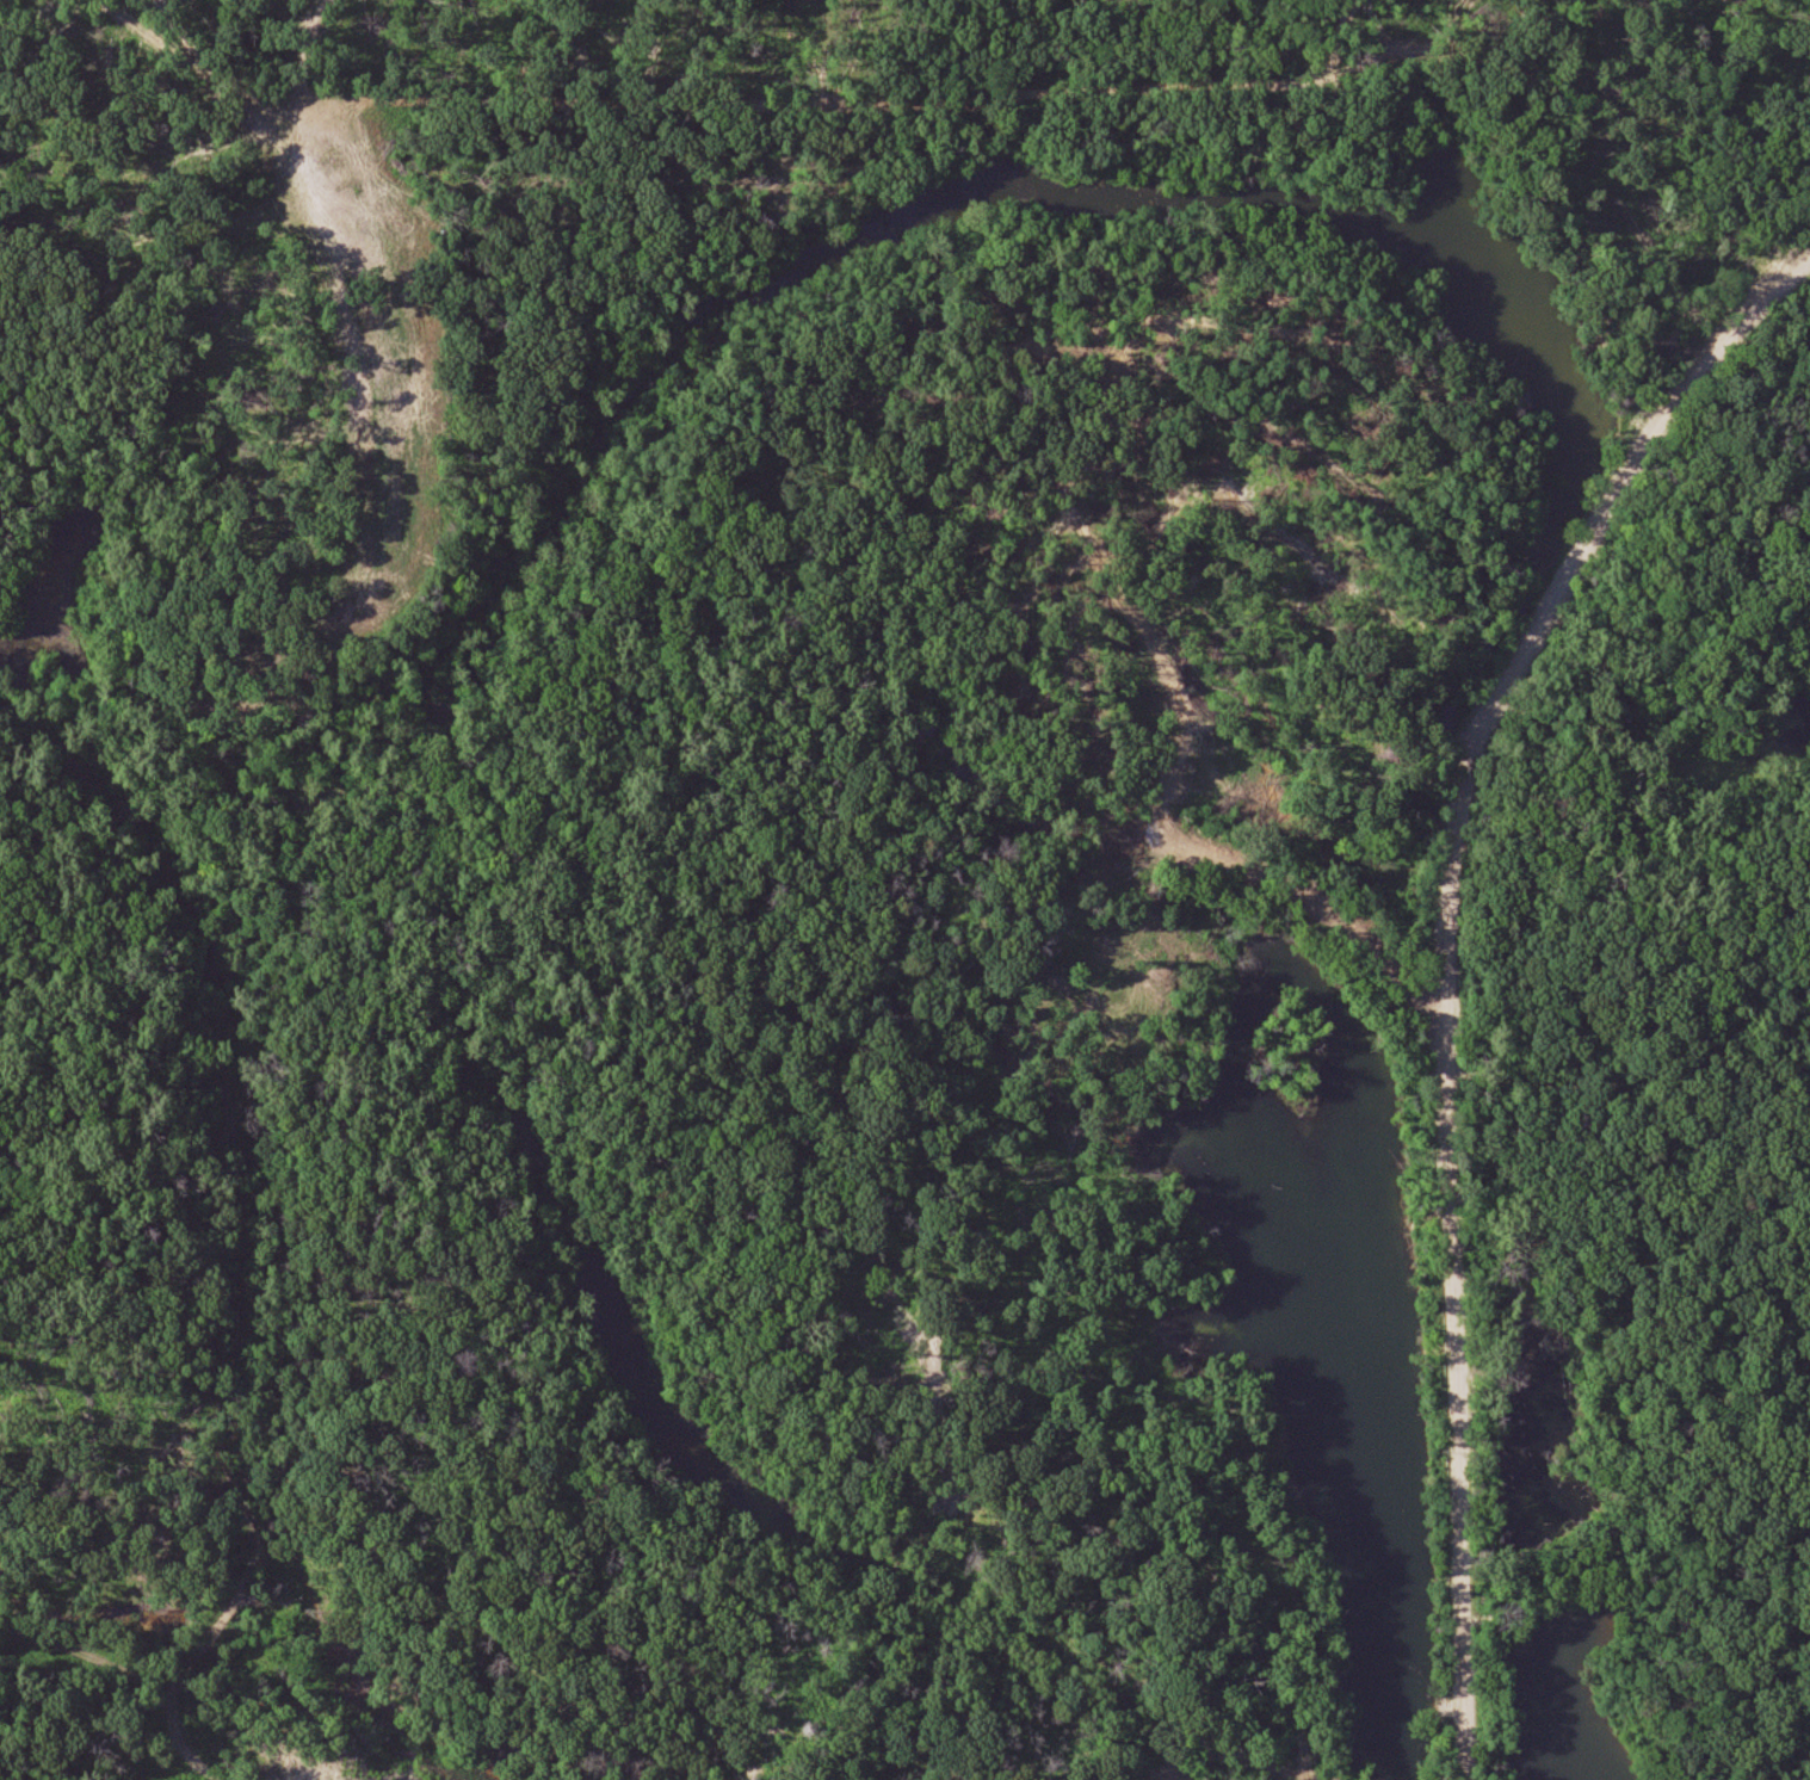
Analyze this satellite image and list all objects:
road: (1450, 964)

